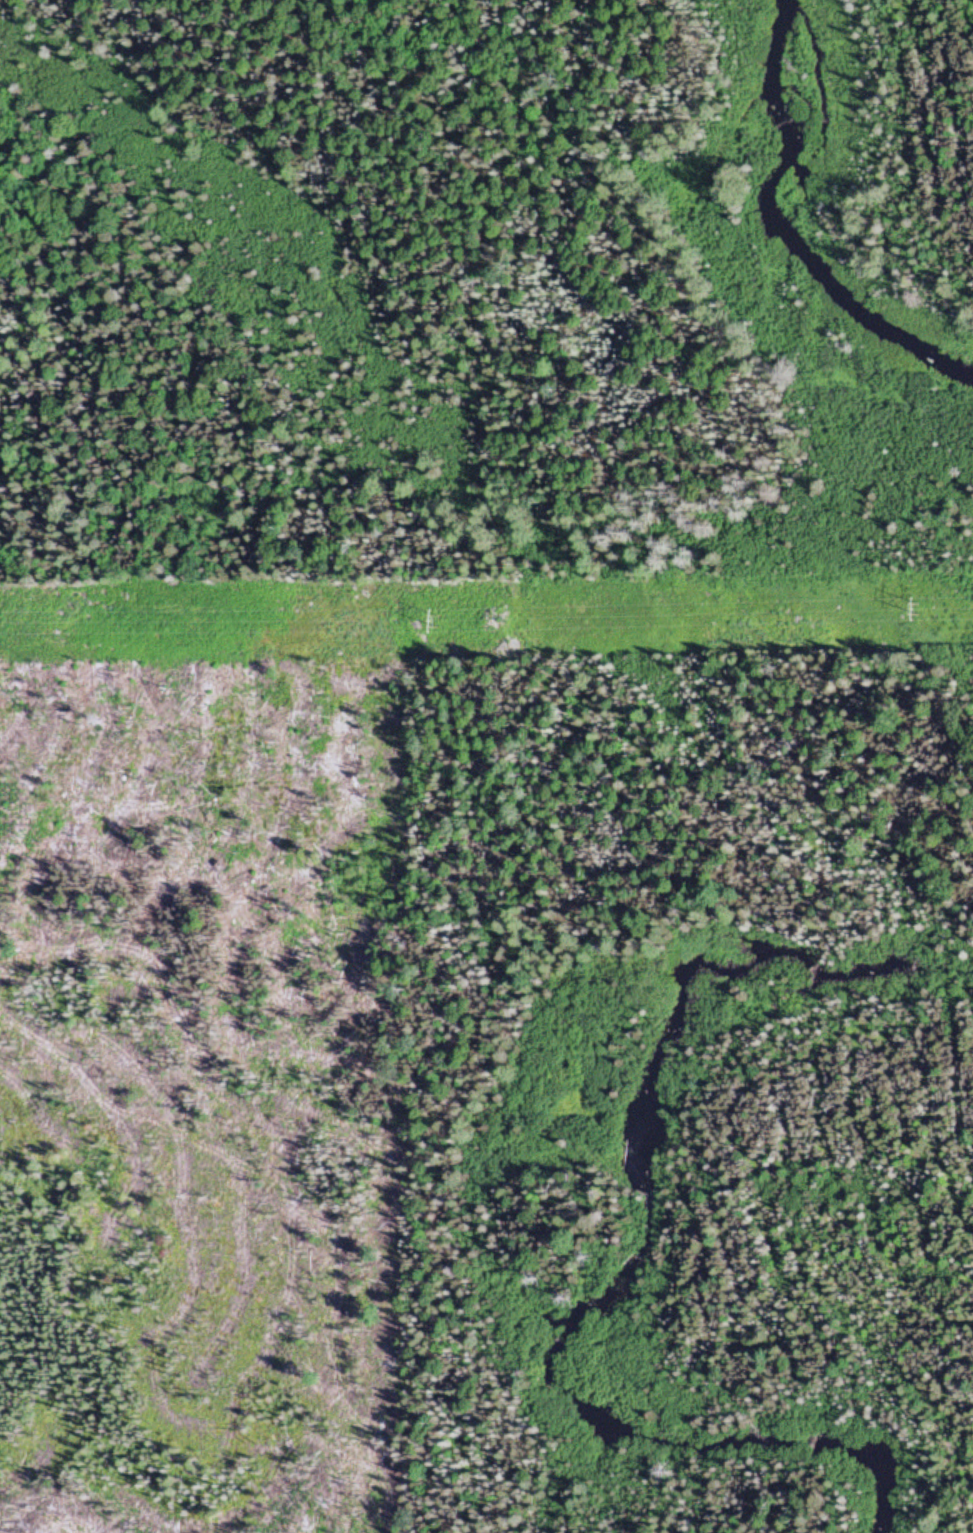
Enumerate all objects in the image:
river: (801, 224)
river: (611, 1247)

